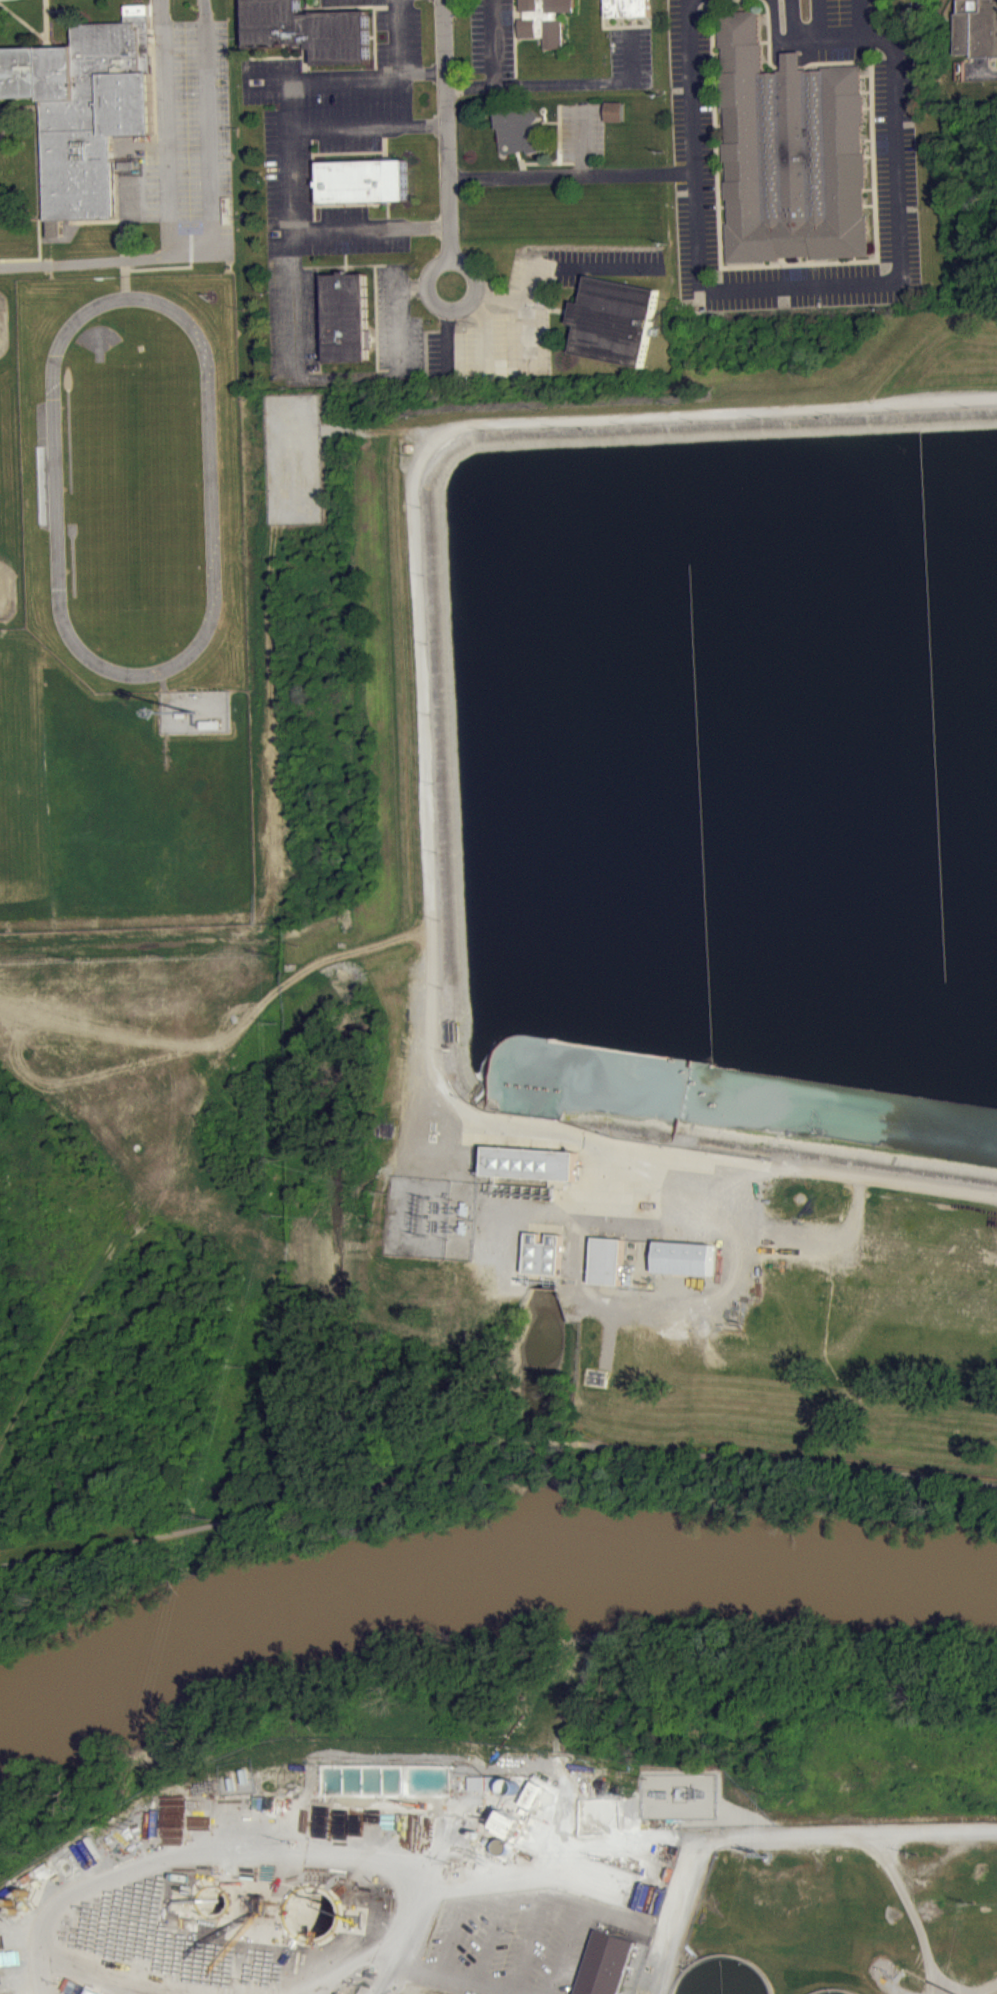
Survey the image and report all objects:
road: (359, 6)
road: (308, 7)
building: (628, 7)
road: (45, 19)
building: (545, 20)
road: (25, 23)
building: (977, 27)
parking lot: (843, 29)
building: (311, 30)
parking lot: (396, 31)
road: (400, 33)
parking lot: (493, 38)
road: (494, 42)
road: (375, 51)
parking lot: (631, 57)
road: (422, 70)
road: (322, 73)
road: (984, 75)
road: (565, 82)
building: (85, 109)
building: (616, 110)
road: (12, 113)
road: (549, 121)
road: (208, 125)
road: (340, 125)
road: (164, 126)
parking lot: (195, 129)
road: (448, 129)
building: (522, 129)
road: (560, 132)
parking lot: (584, 132)
road: (584, 139)
building: (792, 152)
road: (542, 157)
road: (520, 160)
parking lot: (696, 161)
road: (546, 163)
road: (572, 174)
building: (365, 180)
road: (37, 197)
parking lot: (318, 212)
road: (318, 231)
road: (106, 257)
road: (583, 264)
road: (847, 280)
road: (475, 282)
road: (400, 285)
road: (477, 302)
road: (293, 305)
road: (529, 310)
road: (448, 313)
parking lot: (495, 315)
building: (348, 317)
building: (616, 320)
park: (3, 324)
road: (395, 332)
road: (486, 341)
road: (448, 348)
building: (281, 408)
road: (388, 431)
power substation: (295, 458)
park: (137, 485)
track: (134, 487)
park: (5, 582)
building: (182, 714)
building: (212, 724)
road: (427, 763)
building: (533, 1162)
wastewater plant: (609, 1204)
power substation: (433, 1218)
building: (545, 1253)
building: (686, 1257)
building: (609, 1260)
building: (597, 1383)
road: (541, 1442)
road: (784, 1461)
road: (259, 1514)
river: (482, 1544)
building: (512, 1833)
road: (794, 1842)
road: (197, 1852)
road: (423, 1889)
building: (609, 1968)
road: (350, 1972)
road: (81, 1981)

